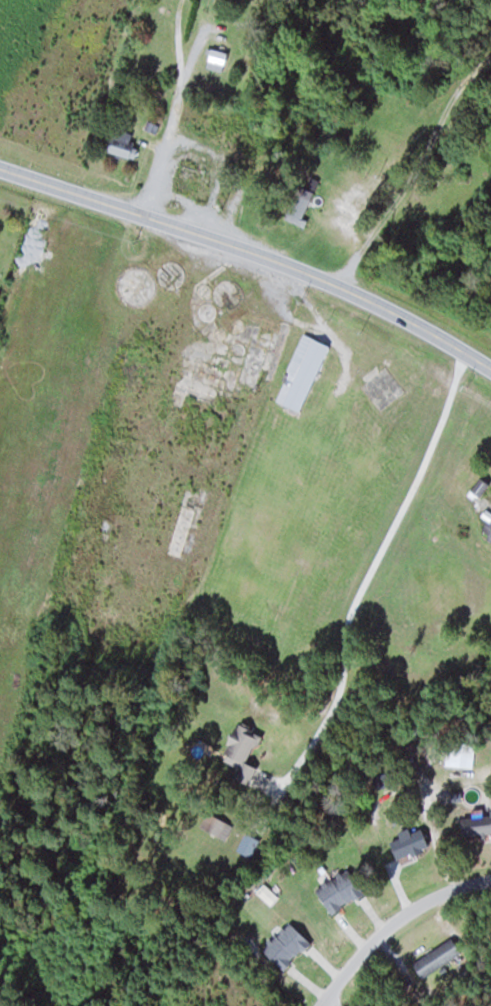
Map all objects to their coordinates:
building: (216, 58)
building: (122, 143)
building: (190, 182)
building: (298, 205)
road: (252, 250)
building: (301, 372)
building: (487, 522)
building: (240, 752)
building: (490, 796)
building: (476, 825)
building: (408, 843)
building: (338, 891)
road: (393, 924)
building: (285, 945)
building: (436, 958)
road: (326, 1004)

